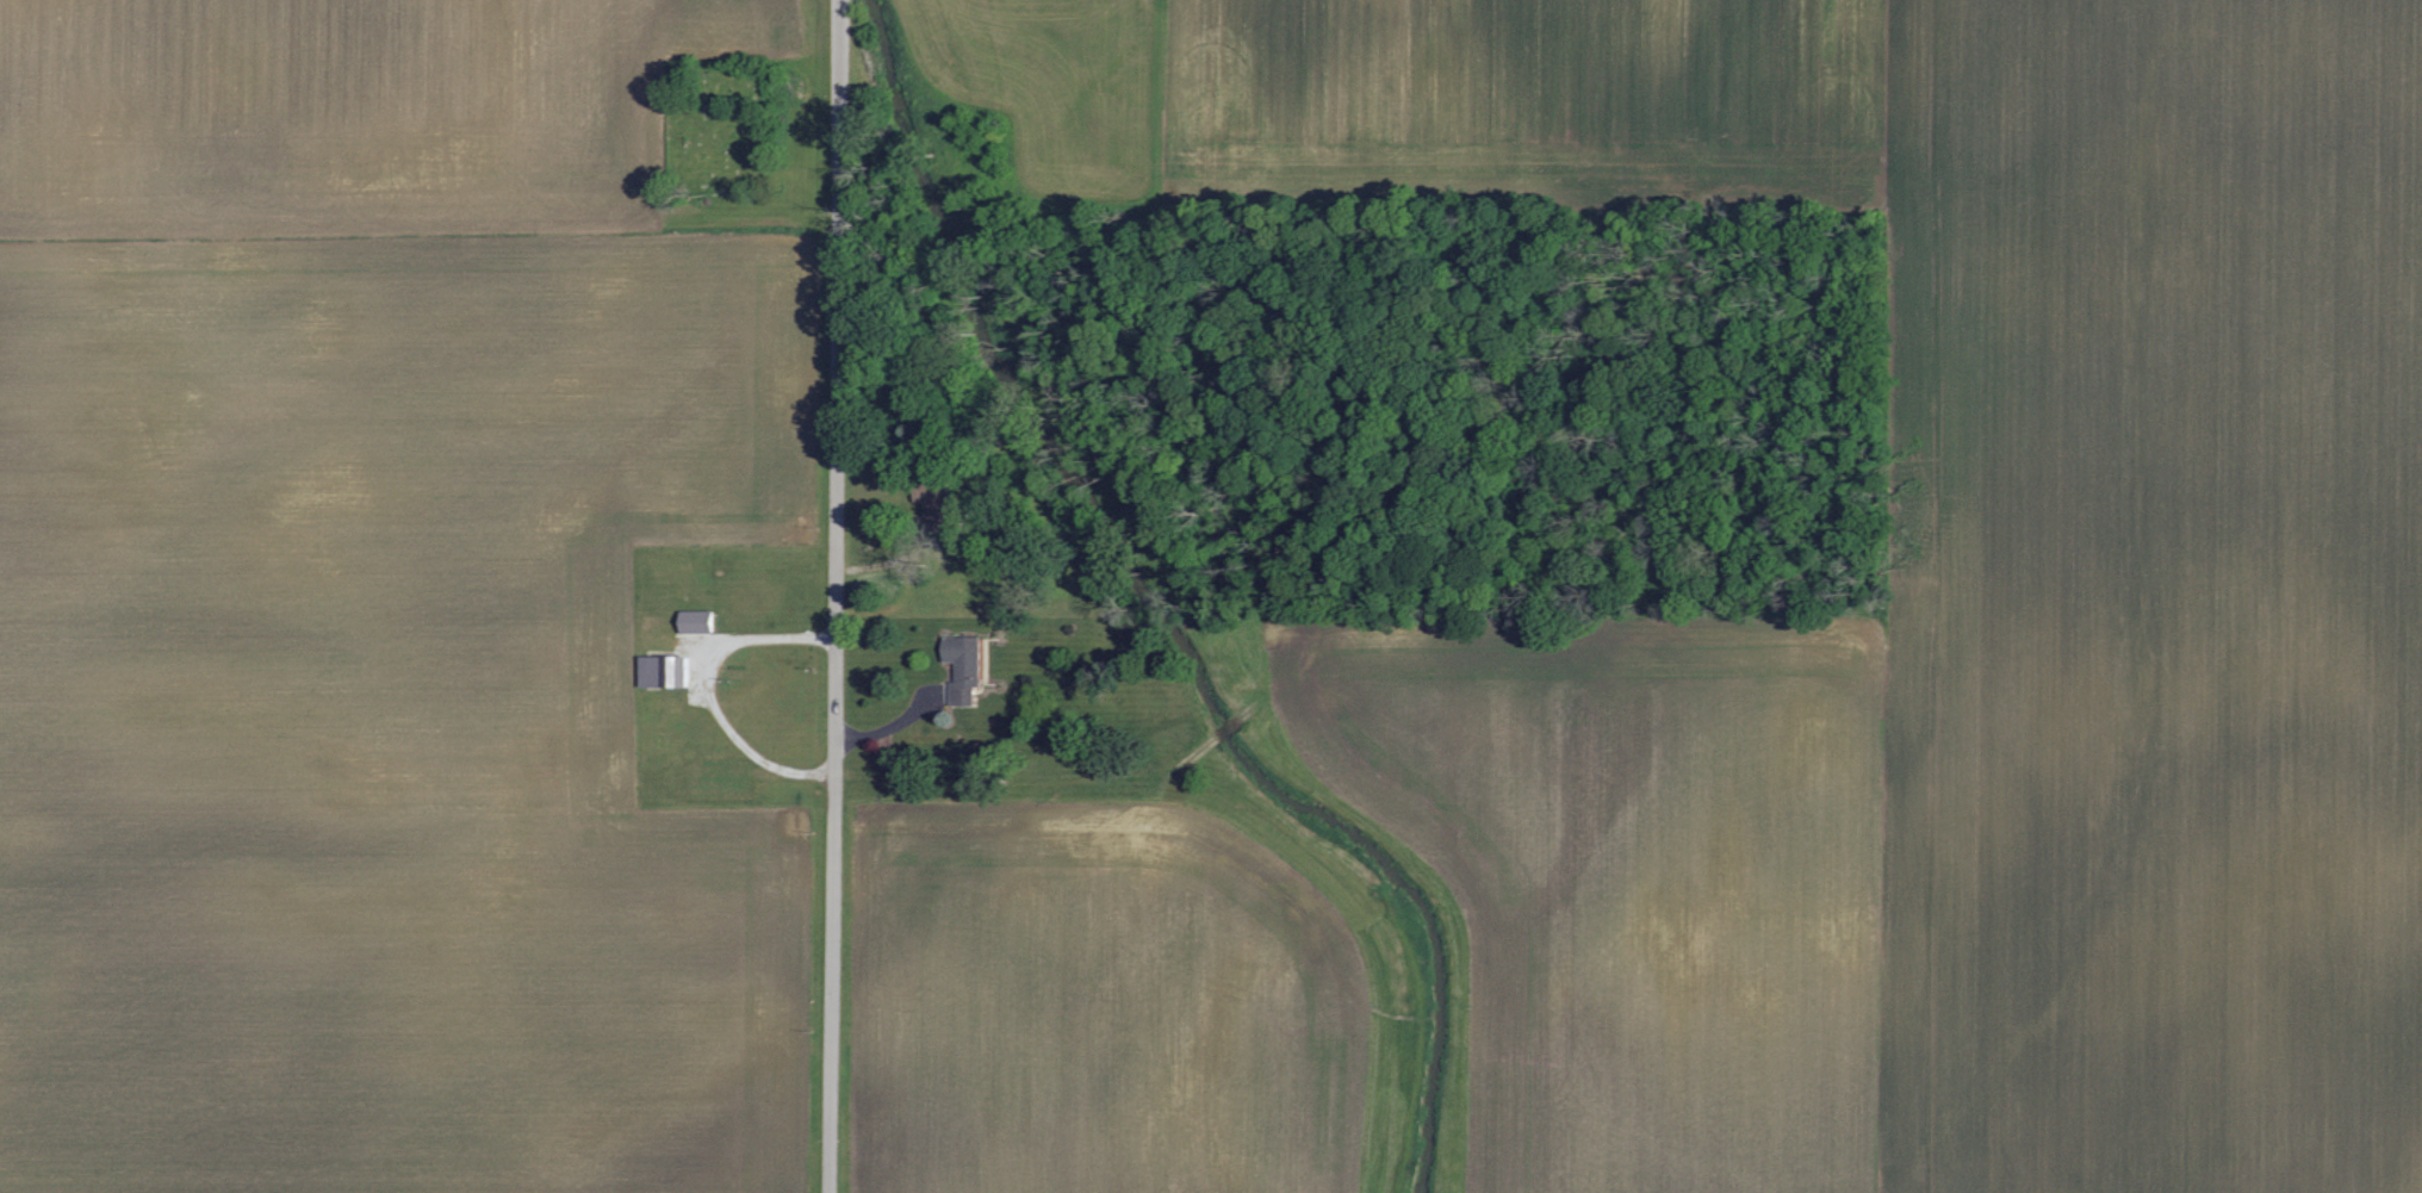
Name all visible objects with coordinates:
road: (838, 596)
building: (695, 621)
building: (961, 667)
building: (659, 671)

